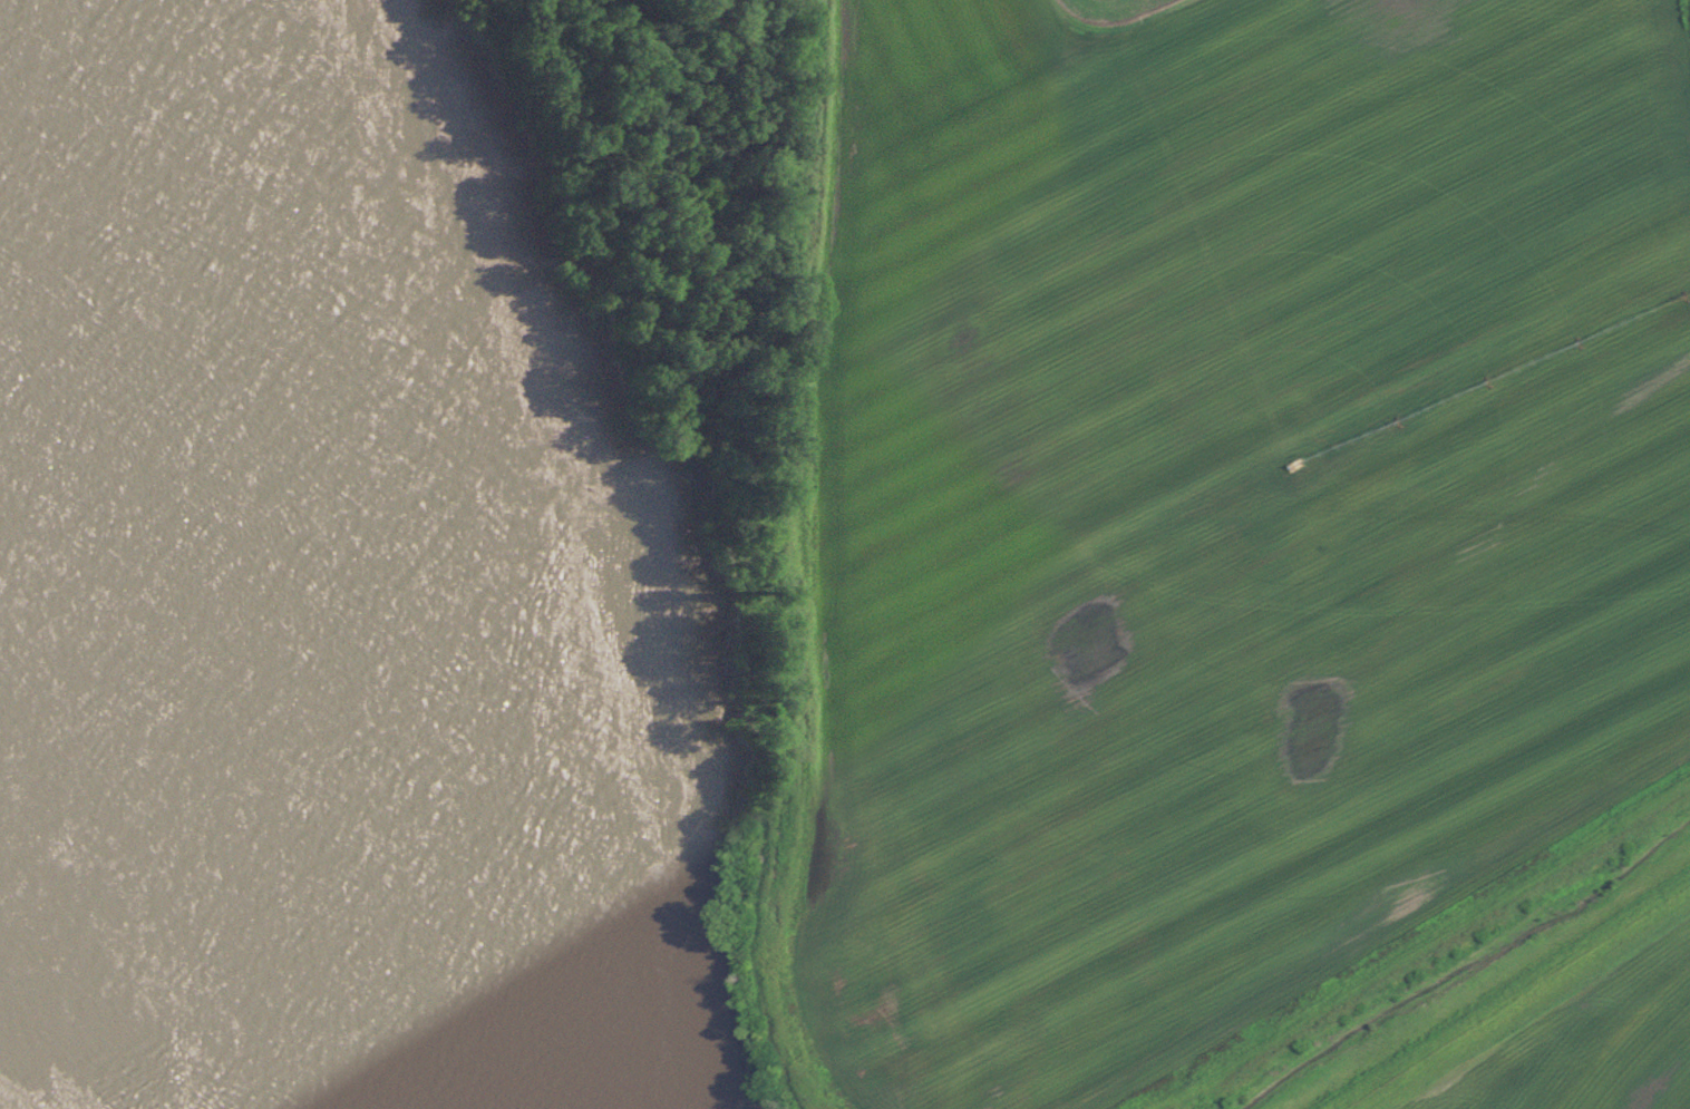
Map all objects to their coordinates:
crop: (1224, 504)
river: (194, 697)
crop: (1568, 1032)

